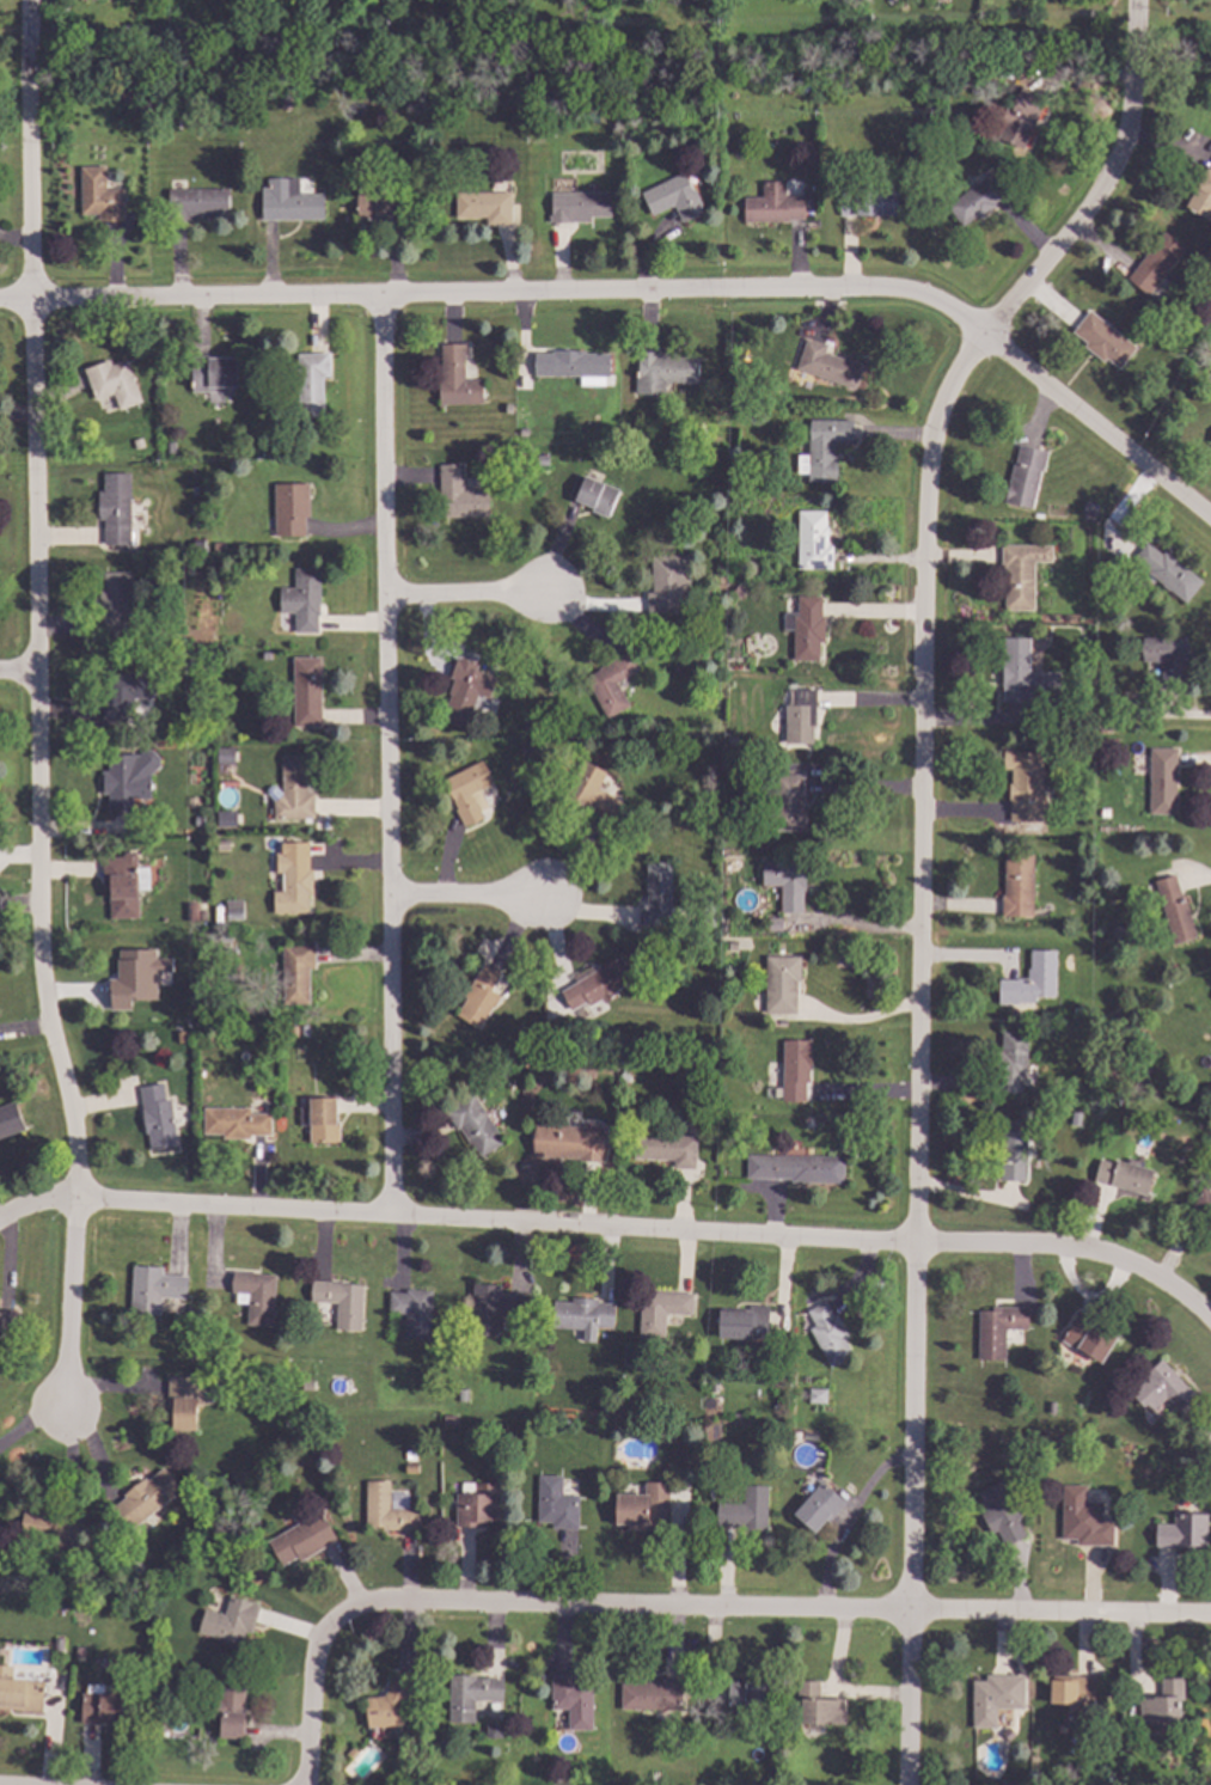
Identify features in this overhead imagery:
building: (87, 0)
building: (85, 41)
building: (582, 54)
building: (1021, 118)
building: (102, 196)
building: (1201, 196)
building: (672, 197)
building: (979, 197)
building: (288, 201)
building: (194, 203)
building: (868, 203)
building: (771, 204)
building: (484, 206)
building: (579, 206)
building: (374, 207)
building: (1155, 262)
road: (644, 295)
building: (1103, 340)
building: (570, 362)
building: (826, 365)
building: (662, 371)
building: (215, 374)
building: (454, 377)
building: (311, 381)
building: (112, 383)
building: (1209, 442)
building: (824, 446)
building: (1023, 476)
building: (459, 494)
building: (594, 497)
building: (289, 508)
building: (114, 509)
building: (813, 540)
building: (1021, 571)
building: (1166, 573)
building: (665, 580)
road: (461, 598)
building: (302, 600)
building: (115, 604)
building: (805, 628)
building: (1167, 655)
building: (1026, 673)
road: (16, 676)
building: (611, 683)
building: (306, 691)
building: (466, 692)
building: (123, 698)
road: (33, 703)
building: (796, 717)
building: (225, 757)
road: (389, 757)
building: (1025, 780)
building: (128, 781)
building: (1162, 782)
building: (585, 785)
building: (292, 790)
building: (465, 793)
building: (789, 802)
building: (225, 820)
road: (922, 861)
building: (294, 881)
building: (787, 882)
building: (121, 884)
building: (1016, 886)
building: (658, 893)
road: (467, 901)
building: (233, 911)
building: (1175, 911)
road: (855, 928)
building: (126, 961)
building: (295, 971)
building: (1029, 982)
building: (779, 983)
building: (595, 984)
building: (478, 1000)
building: (1013, 1059)
building: (795, 1069)
building: (157, 1118)
building: (10, 1120)
building: (238, 1120)
building: (323, 1120)
building: (473, 1125)
building: (567, 1143)
building: (665, 1149)
building: (1011, 1149)
building: (795, 1167)
building: (1124, 1175)
building: (1201, 1203)
road: (614, 1225)
building: (153, 1288)
building: (256, 1295)
building: (341, 1301)
building: (661, 1308)
building: (484, 1310)
building: (412, 1312)
building: (580, 1316)
building: (742, 1322)
building: (996, 1328)
building: (5, 1334)
building: (828, 1334)
building: (1089, 1335)
building: (1158, 1387)
building: (816, 1396)
building: (183, 1399)
building: (147, 1496)
building: (556, 1504)
building: (478, 1506)
building: (644, 1506)
building: (818, 1508)
building: (744, 1509)
building: (385, 1510)
building: (1001, 1515)
building: (1082, 1517)
road: (849, 1521)
building: (48, 1527)
building: (1181, 1532)
building: (304, 1540)
road: (767, 1608)
building: (231, 1621)
building: (1071, 1688)
building: (20, 1694)
building: (470, 1695)
building: (652, 1695)
building: (748, 1695)
building: (993, 1698)
building: (573, 1699)
road: (312, 1701)
building: (1160, 1703)
building: (386, 1705)
building: (816, 1705)
building: (104, 1706)
building: (230, 1712)

